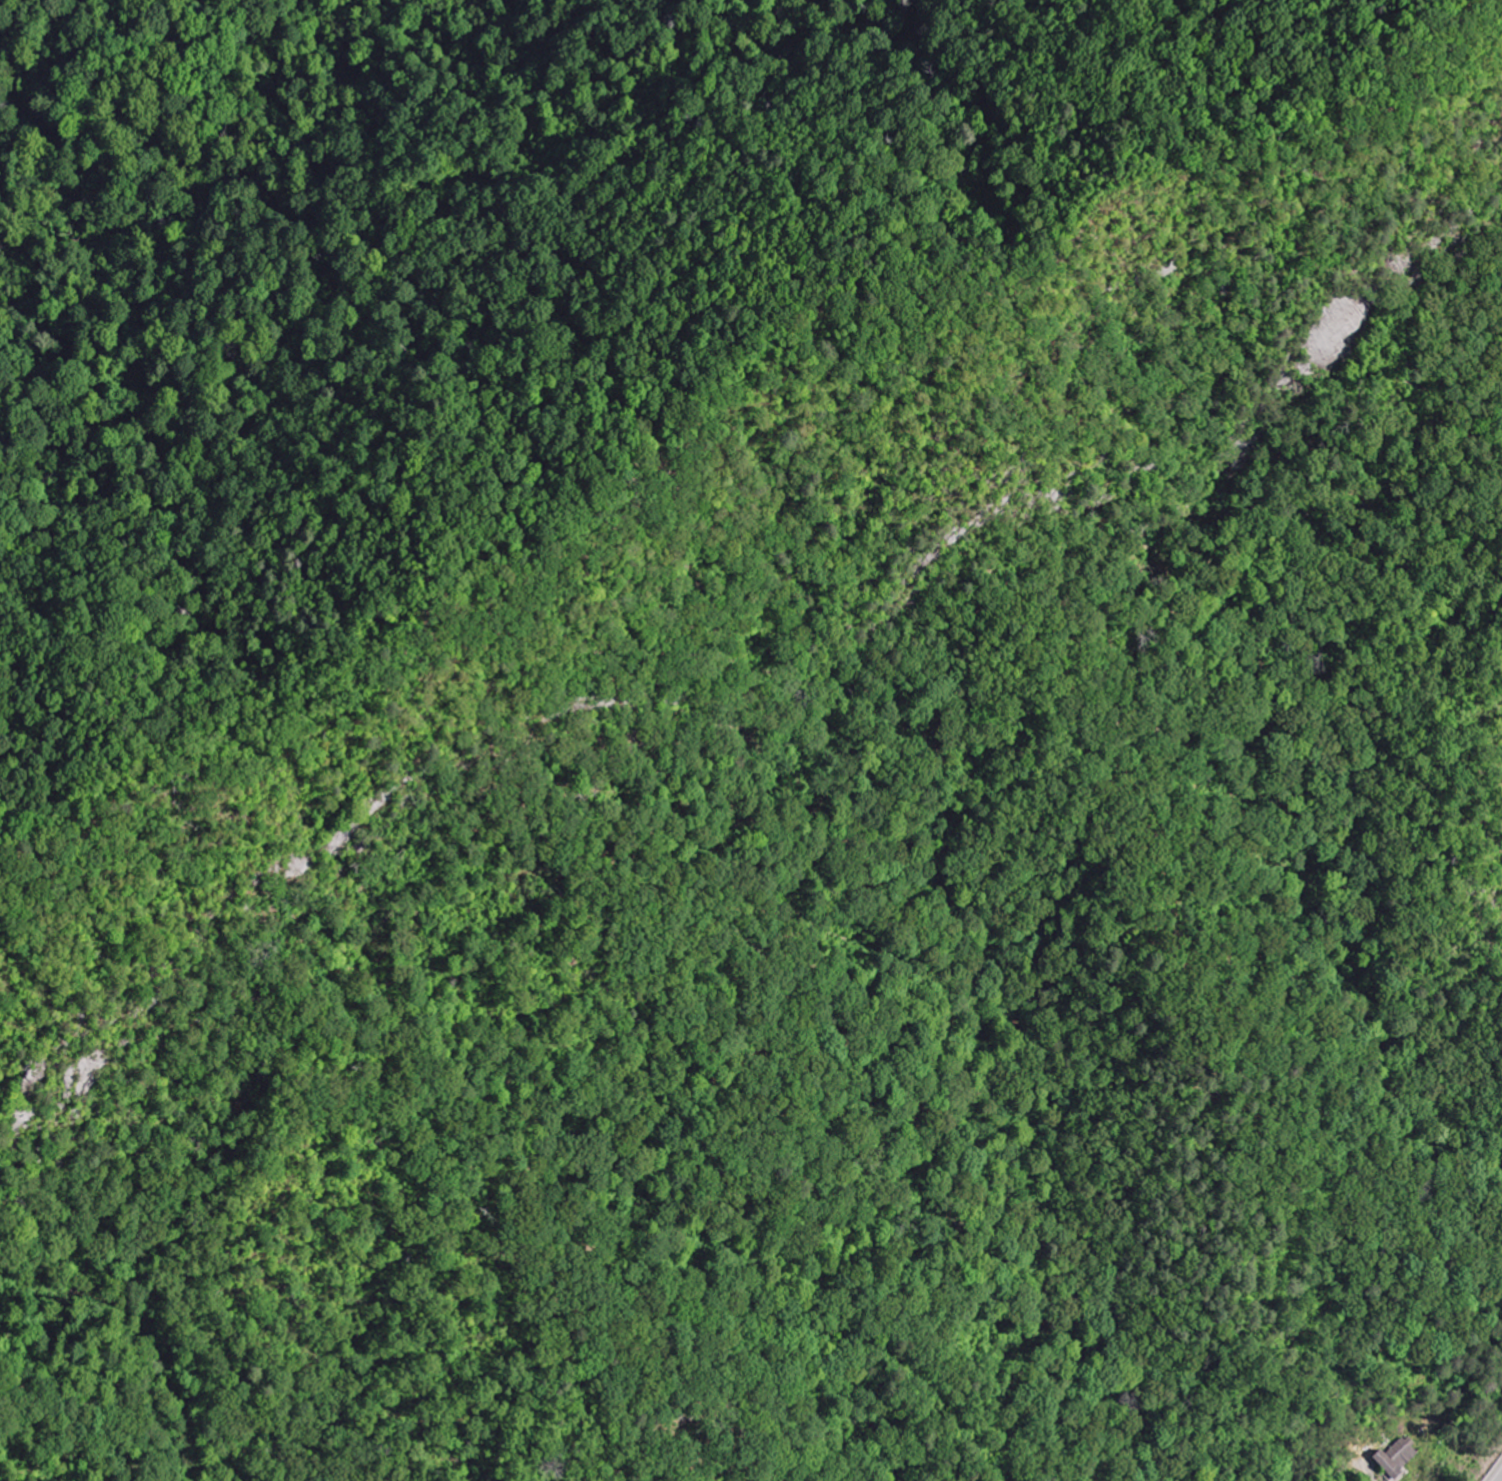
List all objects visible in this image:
building: (1394, 1458)

